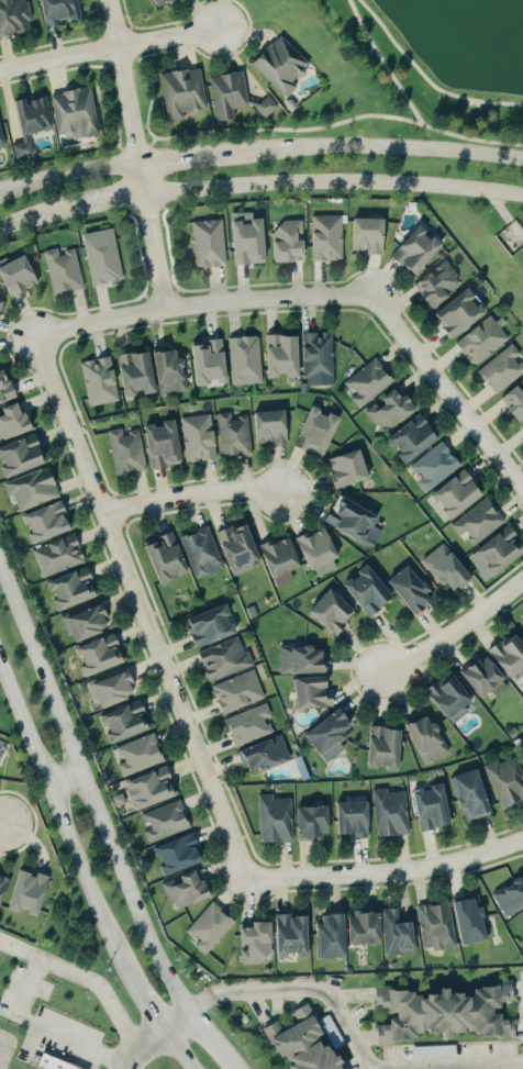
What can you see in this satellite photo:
building: (168, 2)
building: (65, 11)
building: (15, 18)
road: (108, 51)
road: (385, 62)
building: (285, 66)
road: (425, 78)
building: (186, 93)
building: (232, 96)
building: (289, 104)
building: (269, 107)
building: (78, 114)
building: (34, 123)
road: (331, 125)
building: (2, 135)
road: (370, 146)
road: (136, 153)
road: (178, 160)
road: (68, 175)
road: (333, 182)
road: (108, 200)
road: (35, 218)
building: (374, 236)
building: (331, 238)
building: (255, 243)
building: (293, 243)
building: (213, 244)
building: (422, 252)
building: (105, 258)
building: (66, 271)
building: (22, 278)
building: (443, 285)
road: (199, 304)
building: (3, 310)
building: (466, 315)
building: (486, 342)
building: (288, 357)
building: (322, 359)
building: (248, 361)
building: (214, 365)
building: (505, 370)
building: (175, 374)
building: (142, 376)
building: (103, 382)
building: (371, 382)
building: (8, 389)
road: (445, 393)
building: (516, 402)
building: (394, 411)
building: (16, 423)
building: (269, 427)
building: (321, 433)
building: (236, 436)
building: (202, 438)
building: (419, 439)
building: (167, 445)
building: (130, 452)
building: (26, 457)
building: (438, 467)
building: (346, 468)
building: (36, 490)
road: (190, 497)
building: (463, 497)
building: (481, 522)
building: (52, 523)
building: (244, 550)
building: (323, 553)
building: (205, 554)
building: (505, 554)
building: (62, 557)
building: (171, 559)
building: (287, 560)
building: (450, 570)
building: (77, 591)
building: (370, 591)
building: (416, 591)
road: (138, 609)
building: (251, 612)
building: (330, 612)
building: (521, 615)
building: (84, 622)
building: (204, 625)
road: (453, 631)
building: (98, 656)
building: (509, 656)
building: (224, 660)
building: (302, 661)
building: (483, 679)
building: (111, 689)
building: (236, 693)
building: (312, 693)
building: (450, 698)
building: (124, 723)
building: (248, 726)
building: (511, 732)
building: (329, 736)
building: (425, 740)
building: (522, 746)
building: (383, 749)
building: (136, 756)
building: (264, 756)
road: (63, 777)
building: (505, 782)
building: (151, 790)
road: (89, 794)
building: (470, 797)
building: (431, 809)
building: (389, 813)
road: (60, 817)
building: (274, 820)
building: (353, 821)
building: (164, 822)
road: (0, 823)
building: (312, 824)
building: (177, 856)
road: (386, 872)
building: (3, 884)
building: (186, 890)
building: (27, 894)
building: (510, 898)
building: (470, 923)
building: (435, 927)
building: (208, 928)
building: (364, 929)
building: (396, 935)
building: (291, 936)
building: (331, 937)
building: (522, 940)
building: (255, 944)
road: (82, 977)
road: (296, 988)
road: (142, 999)
building: (445, 1015)
road: (175, 1020)
road: (46, 1029)
road: (209, 1039)
building: (302, 1043)
road: (3, 1045)
road: (140, 1045)
road: (176, 1048)
building: (52, 1064)
road: (477, 1066)
road: (233, 1068)

